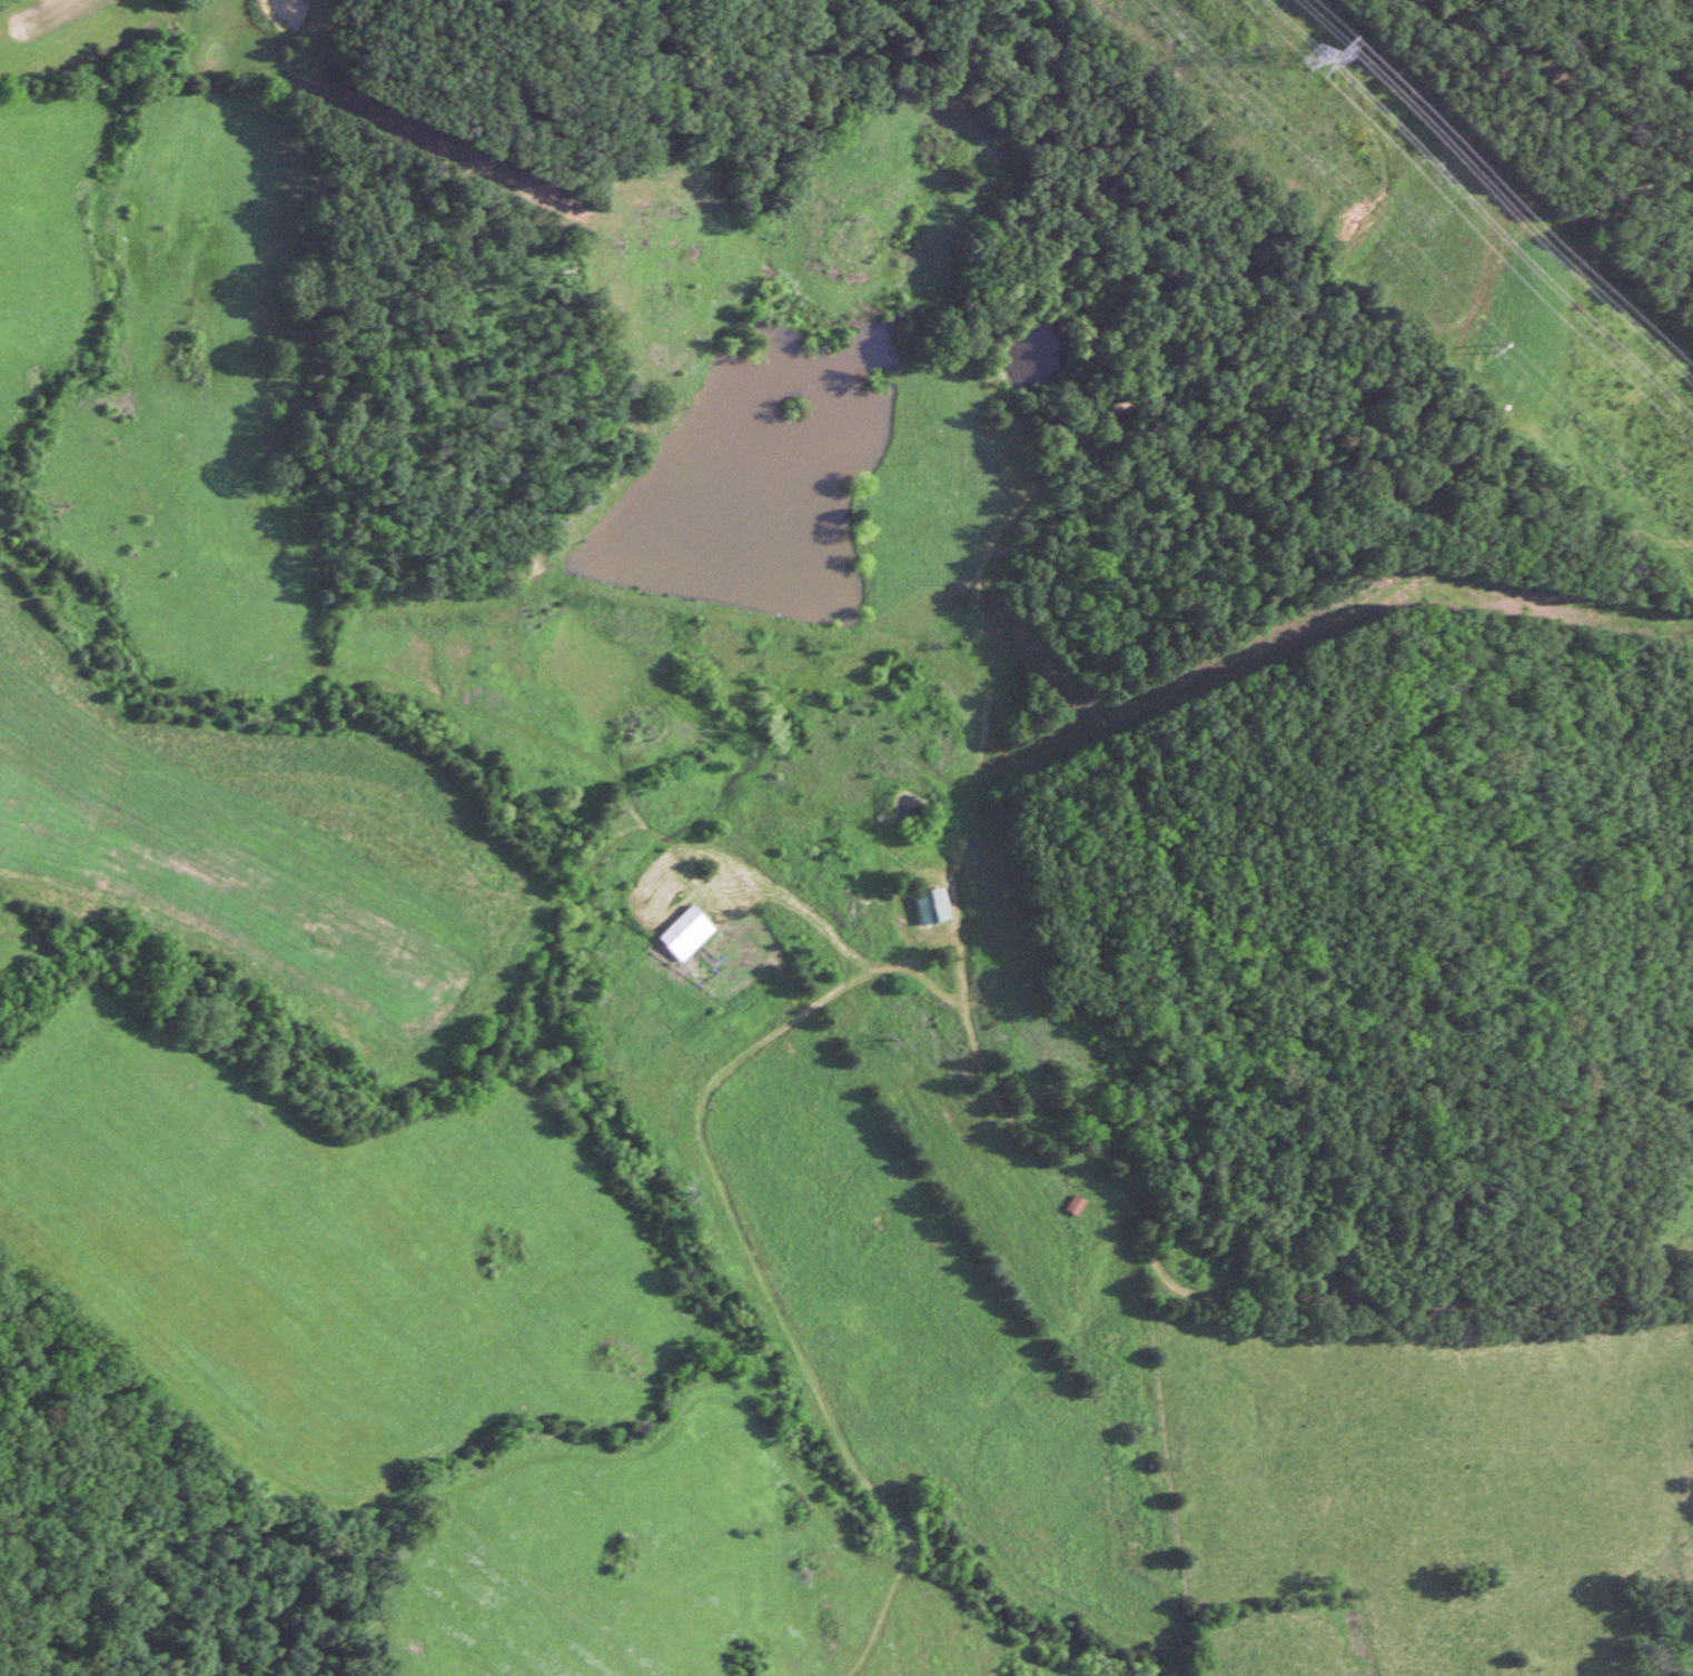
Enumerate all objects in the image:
power tower: (1304, 56)
building: (922, 905)
building: (674, 933)
building: (1066, 1206)
road: (1182, 1295)

